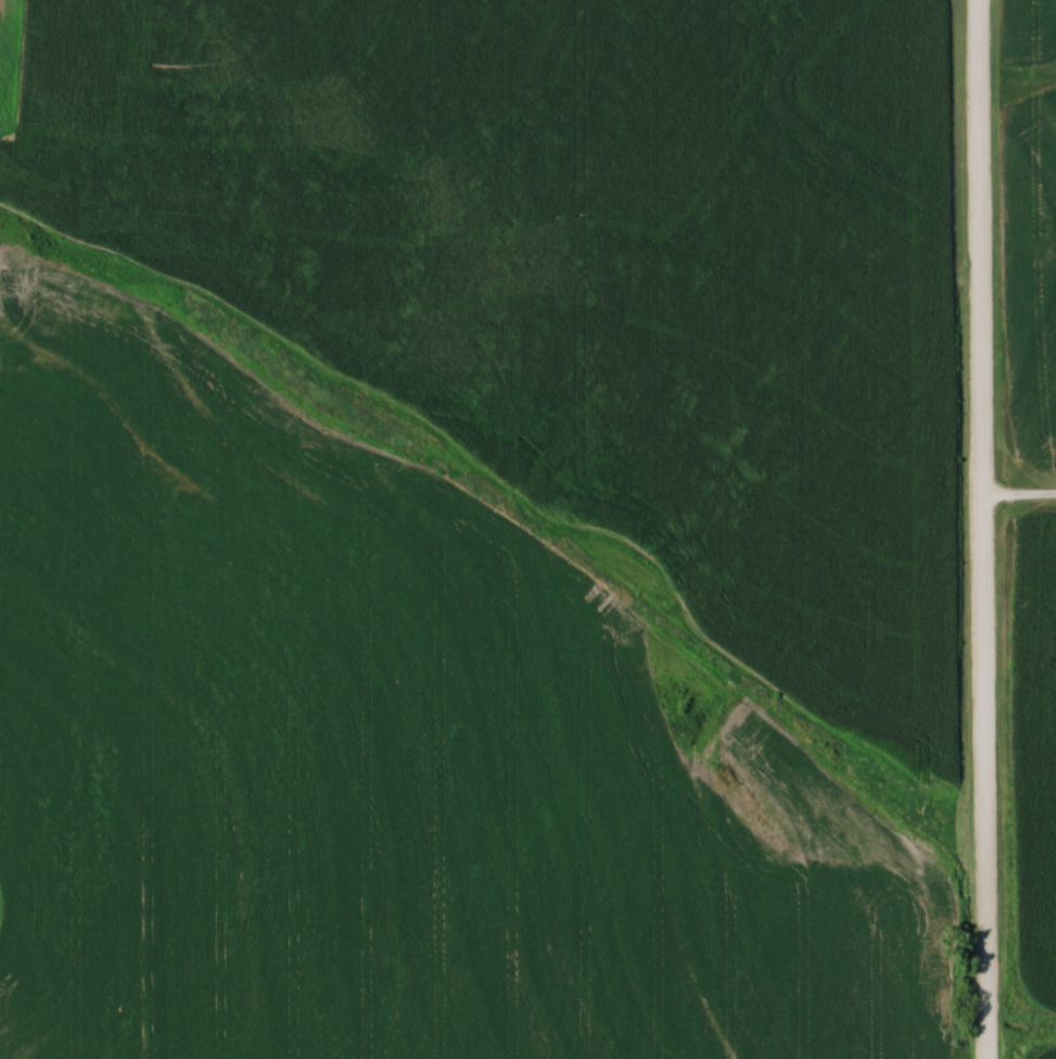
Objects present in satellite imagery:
road: (1020, 495)
road: (985, 529)

